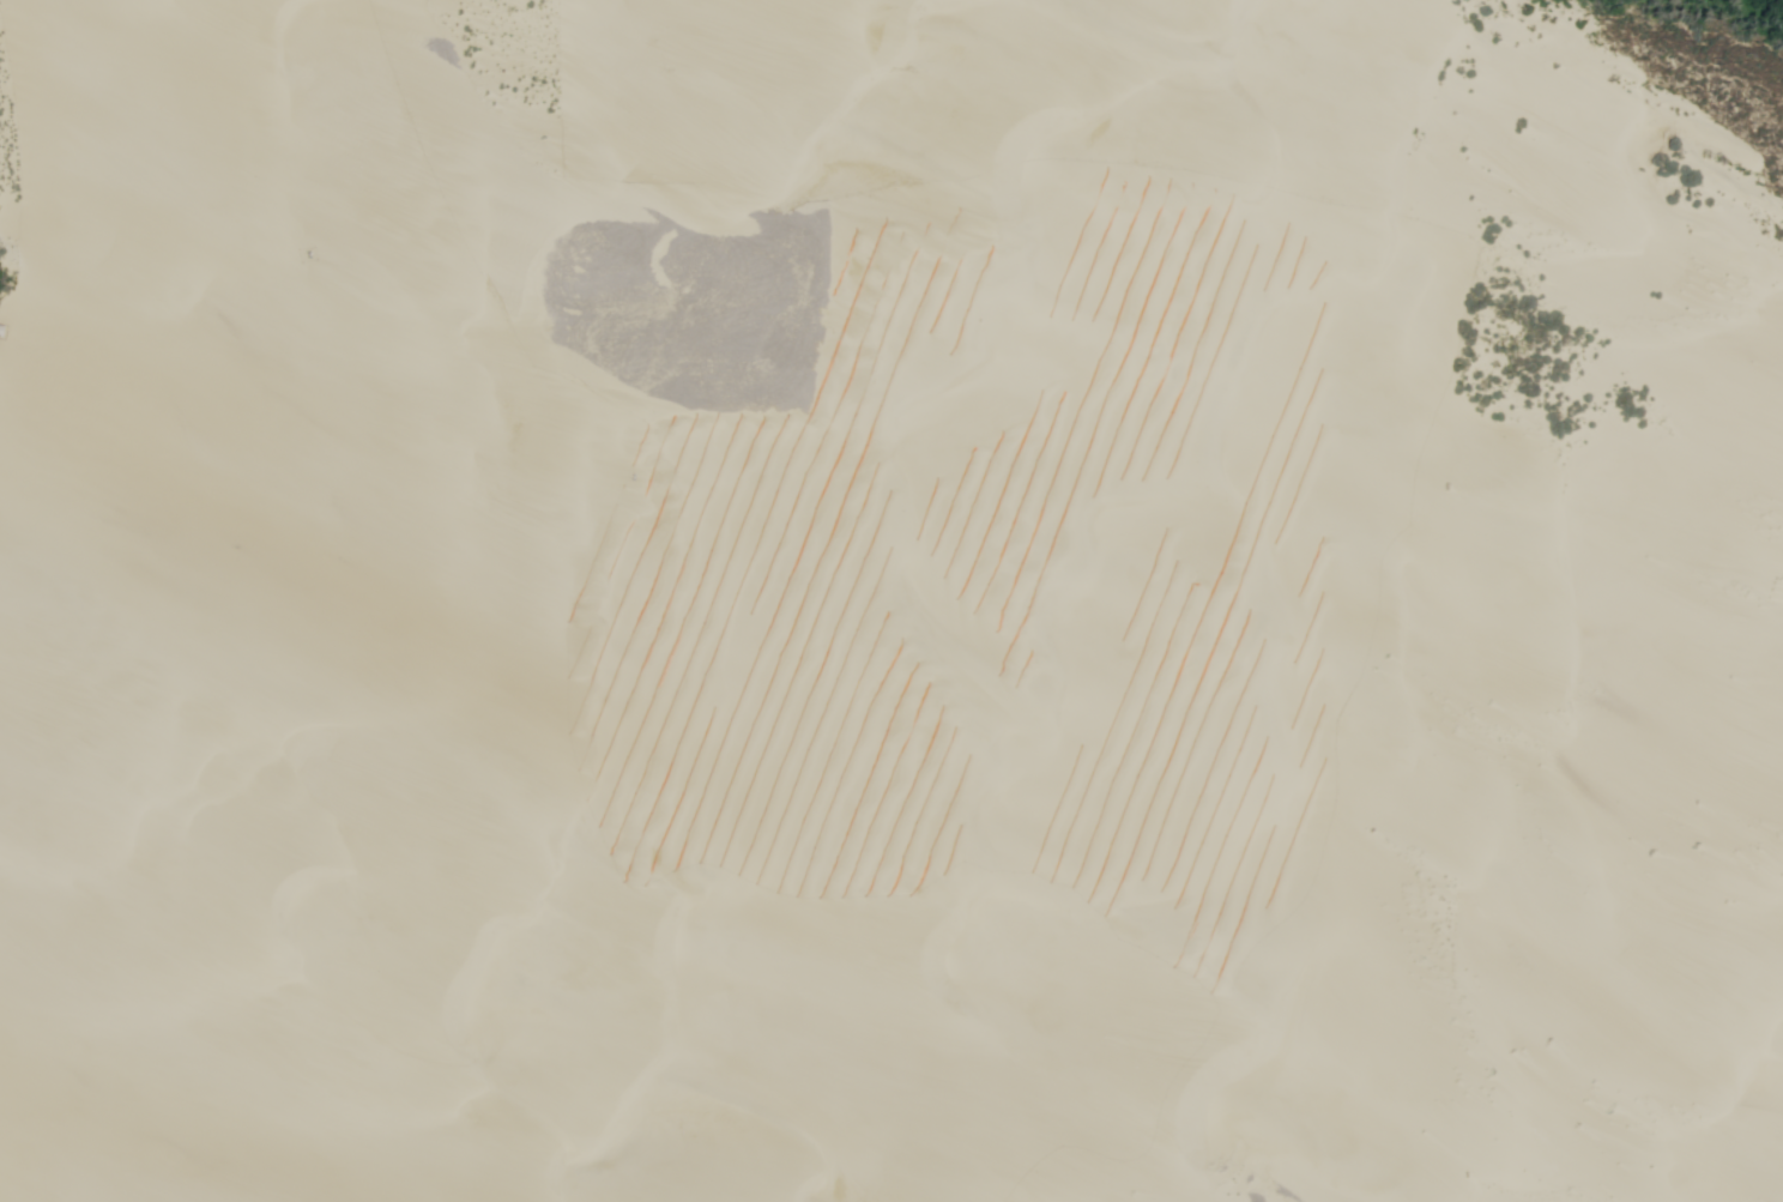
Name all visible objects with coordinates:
road: (10, 0)
road: (295, 24)
road: (368, 604)
park: (703, 630)

